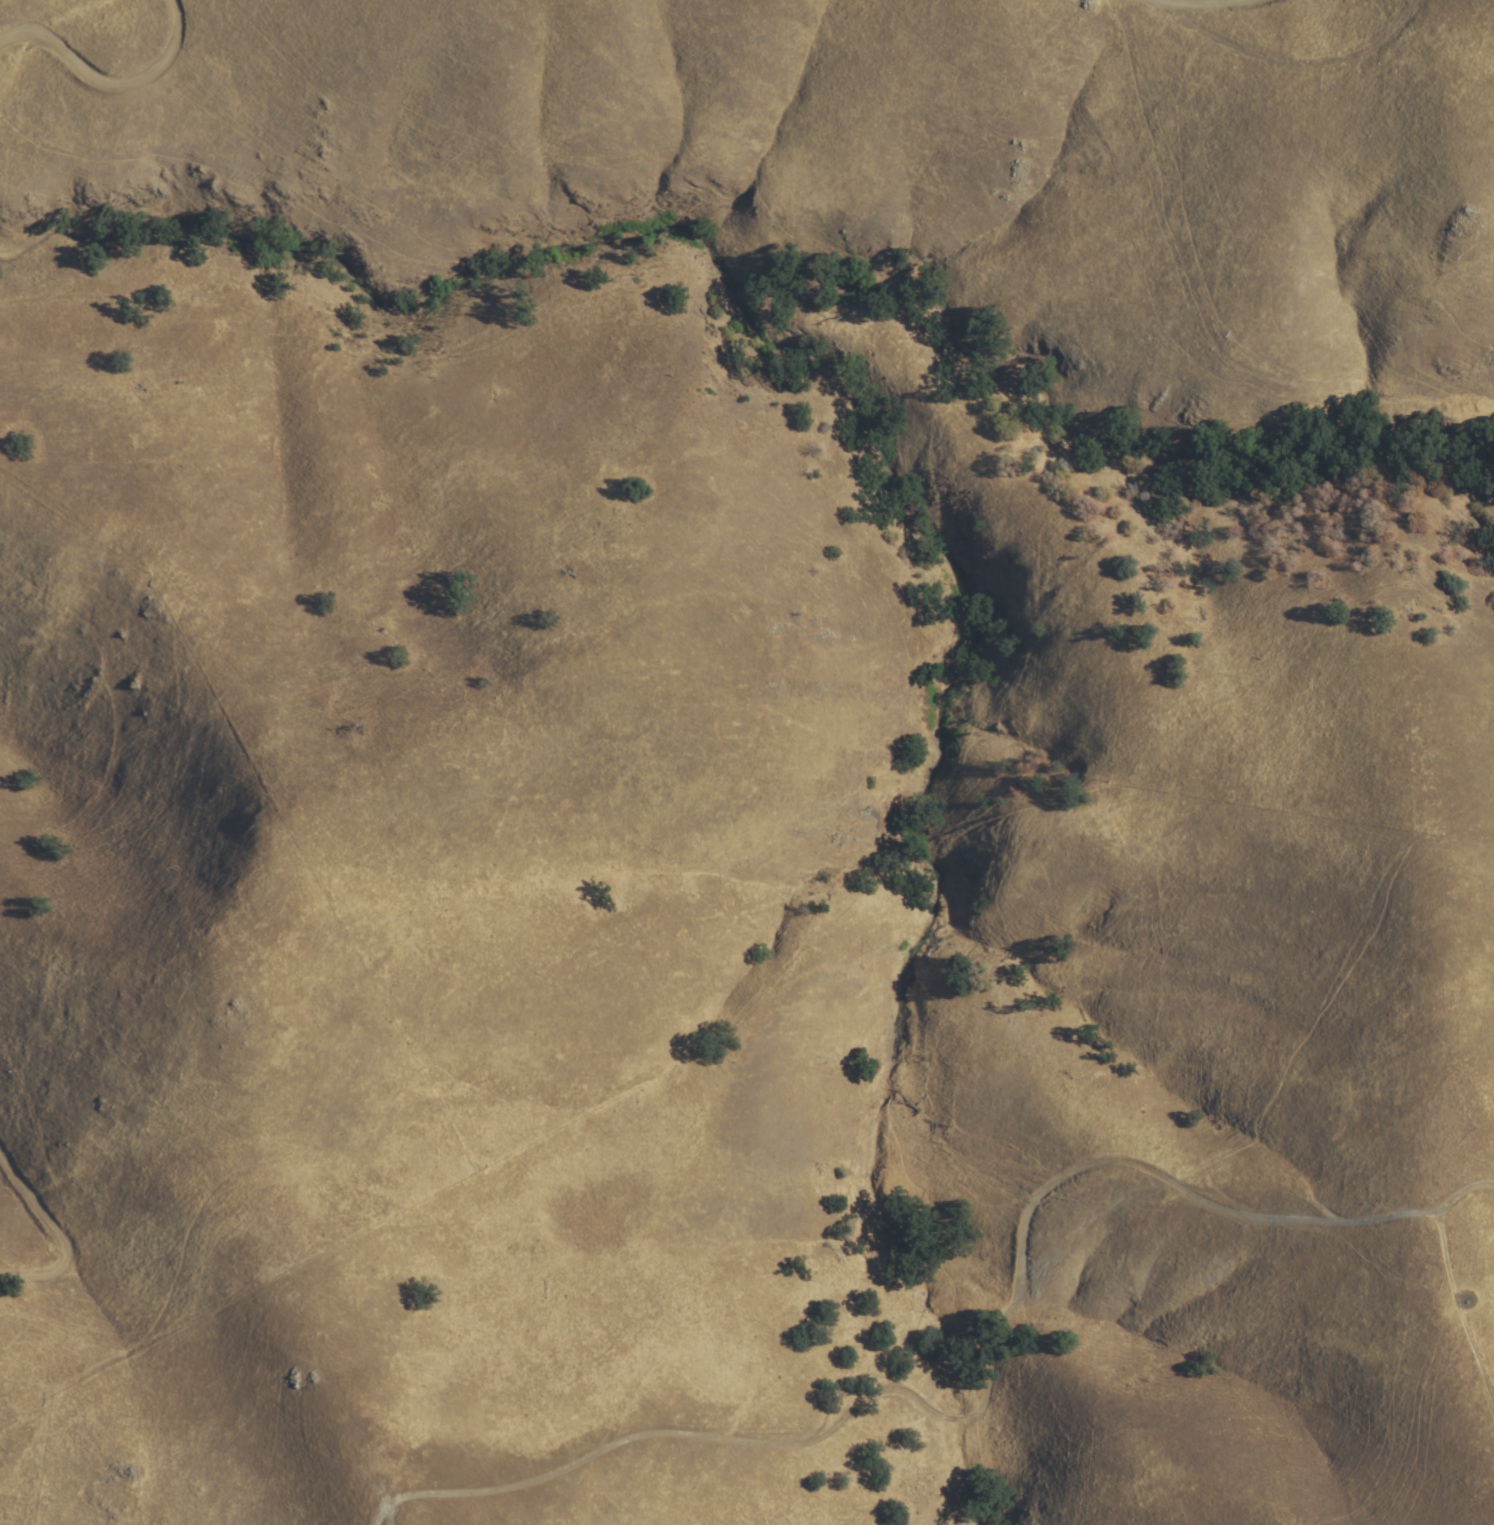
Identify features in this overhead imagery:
road: (1205, 6)
road: (108, 76)

